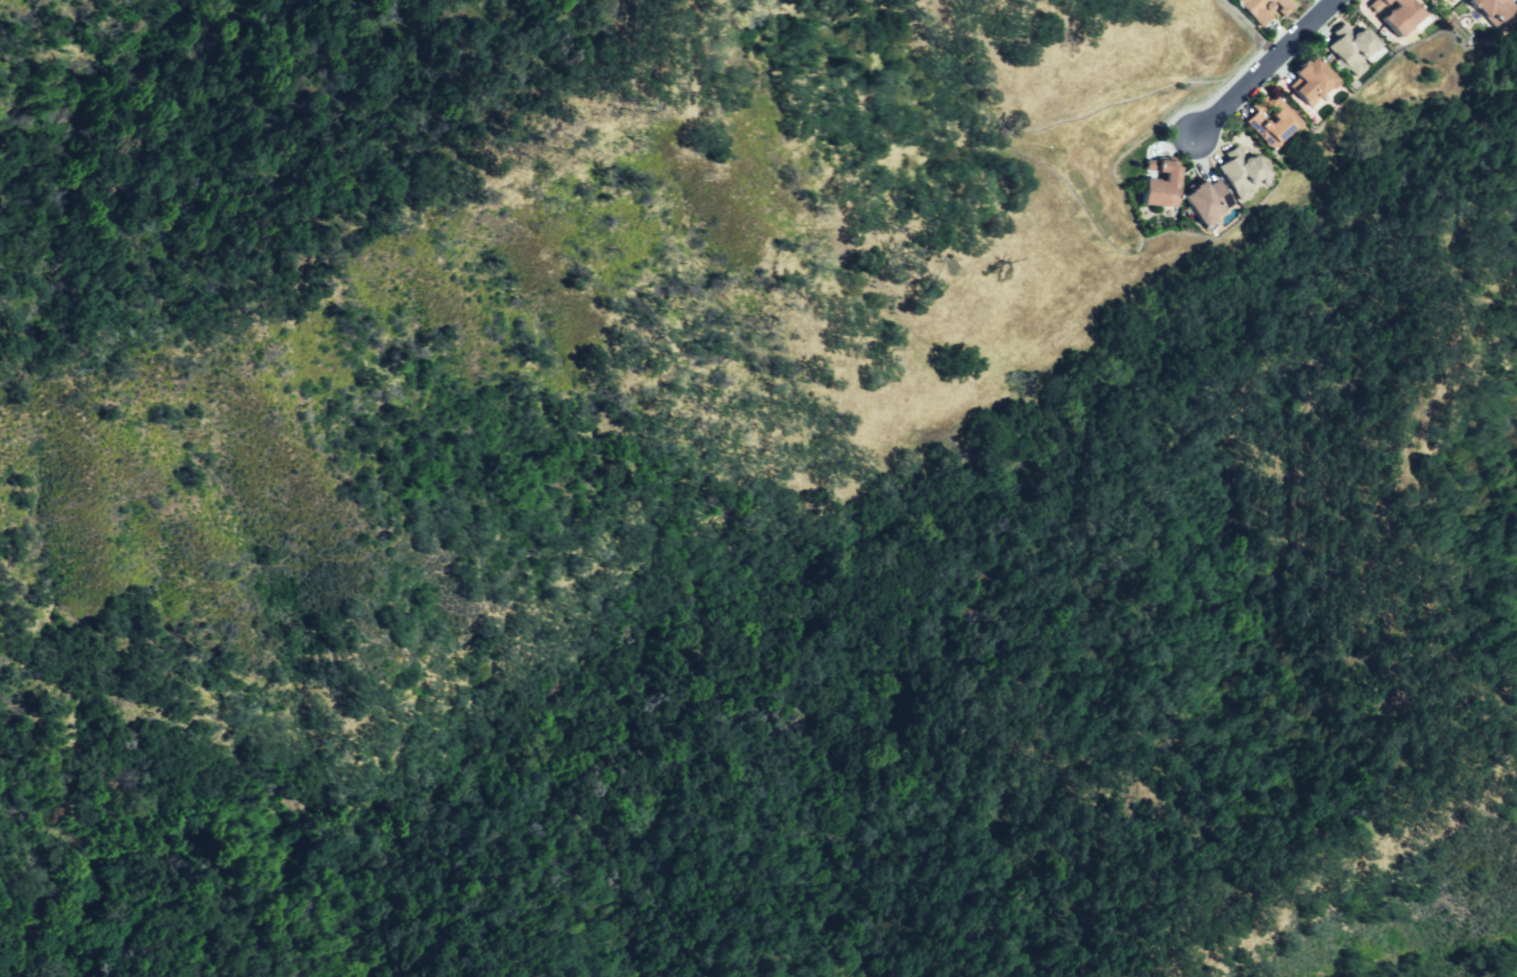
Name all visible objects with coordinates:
building: (1447, 0)
building: (1451, 1)
road: (1321, 3)
building: (1264, 8)
building: (1488, 10)
building: (1392, 13)
road: (1248, 28)
building: (1349, 48)
building: (1372, 54)
road: (1264, 68)
building: (1308, 83)
building: (1270, 127)
building: (1238, 172)
building: (1159, 184)
building: (1205, 200)

